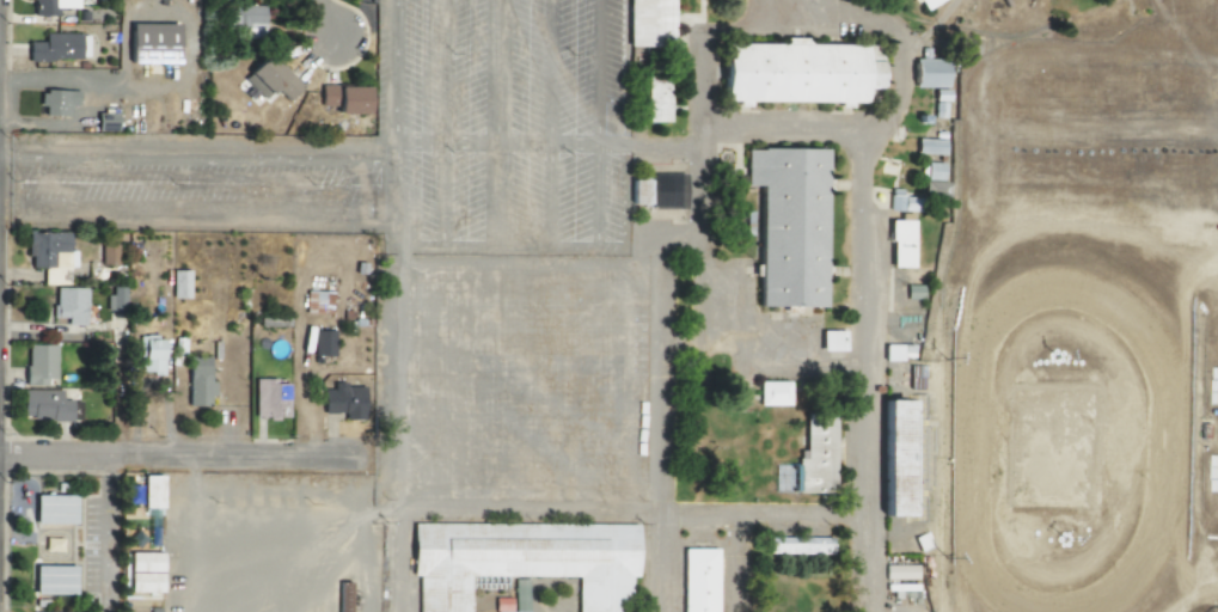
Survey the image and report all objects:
building: (924, 2)
road: (822, 5)
building: (48, 6)
building: (247, 19)
building: (648, 22)
road: (330, 25)
railway: (997, 35)
building: (151, 42)
building: (54, 47)
road: (392, 72)
road: (489, 72)
building: (795, 72)
building: (928, 73)
building: (270, 76)
building: (343, 98)
building: (655, 98)
building: (55, 102)
road: (598, 121)
road: (788, 129)
road: (440, 143)
road: (594, 145)
building: (928, 146)
road: (196, 159)
building: (932, 179)
building: (665, 191)
road: (392, 192)
building: (900, 201)
building: (787, 224)
building: (899, 243)
road: (496, 247)
building: (106, 253)
building: (47, 256)
building: (178, 283)
building: (115, 298)
railway: (941, 301)
building: (68, 305)
building: (831, 339)
building: (322, 342)
building: (149, 354)
road: (775, 354)
building: (37, 363)
building: (197, 381)
building: (772, 393)
building: (269, 398)
building: (342, 400)
building: (42, 405)
road: (186, 453)
building: (815, 454)
building: (890, 457)
building: (779, 477)
building: (151, 491)
building: (51, 509)
building: (797, 545)
building: (521, 559)
building: (142, 571)
building: (900, 571)
building: (51, 580)
building: (697, 580)
building: (520, 595)
building: (501, 605)

